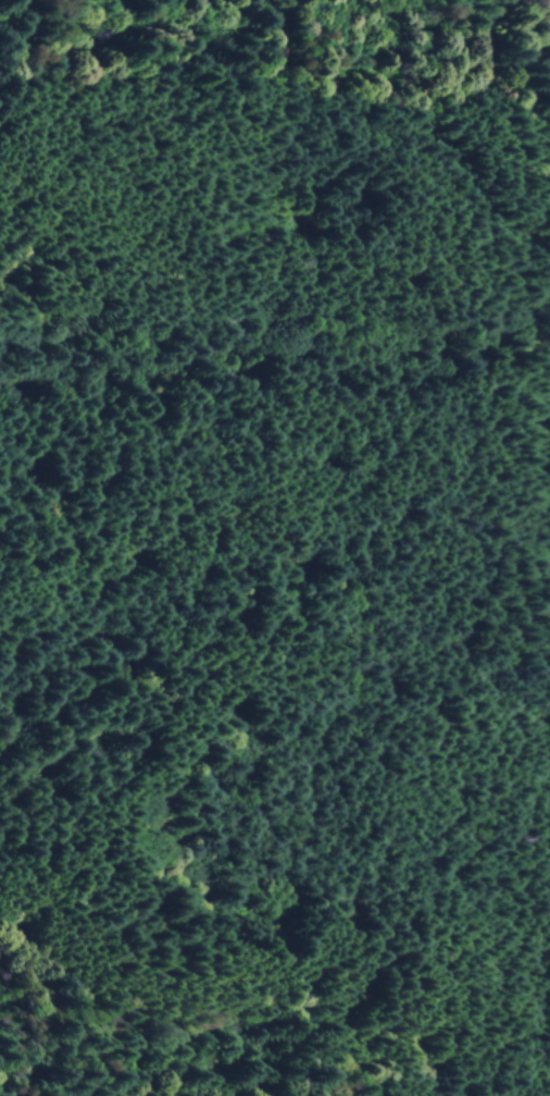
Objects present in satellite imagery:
road: (540, 349)
road: (537, 393)

